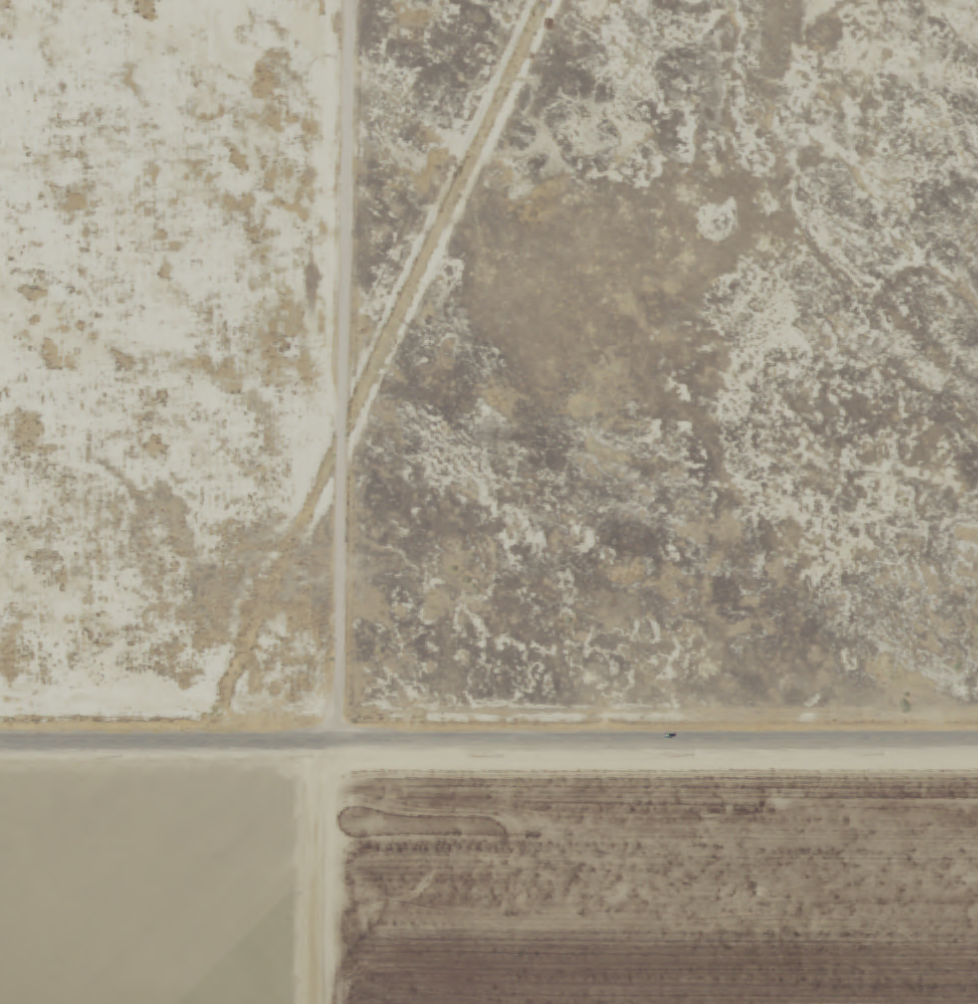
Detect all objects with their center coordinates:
road: (489, 739)

